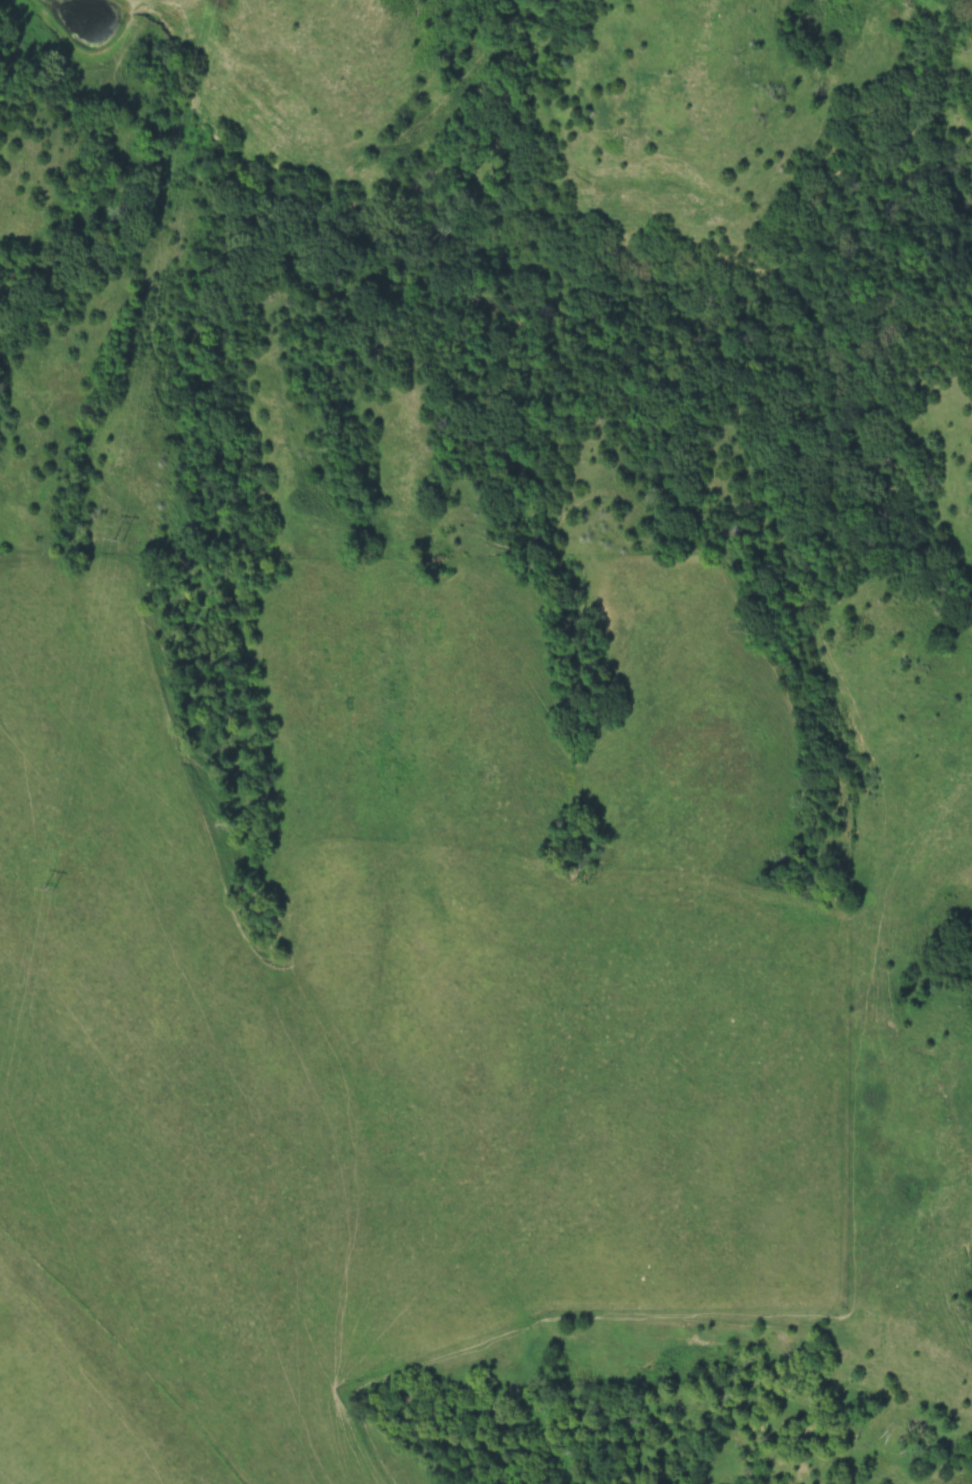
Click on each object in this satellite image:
power tower: (119, 538)
power tower: (48, 888)

